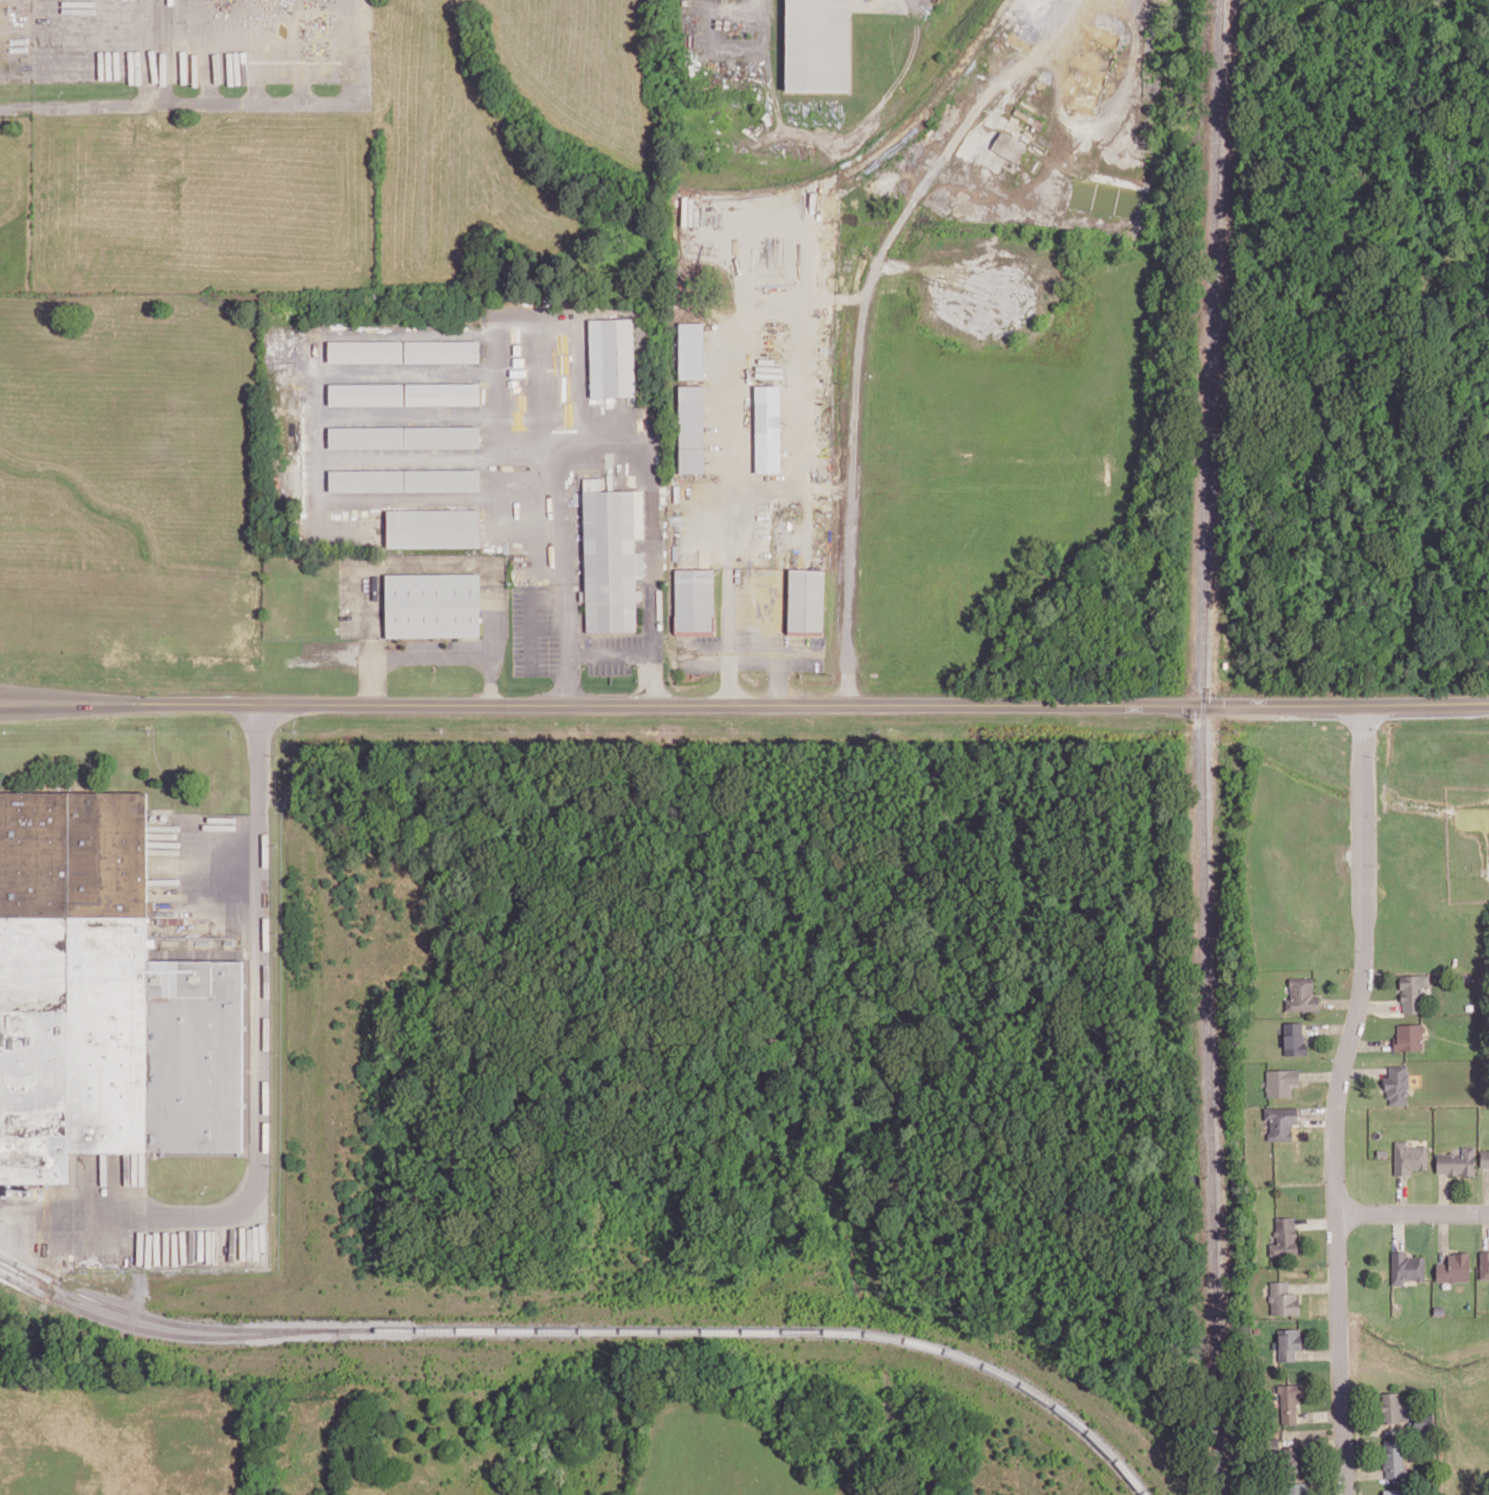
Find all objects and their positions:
street lamp: (327, 23)
building: (817, 45)
road: (161, 52)
street lamp: (328, 82)
road: (229, 102)
building: (1008, 147)
road: (856, 338)
building: (691, 350)
building: (365, 352)
building: (441, 352)
building: (612, 357)
building: (366, 395)
building: (442, 395)
building: (768, 428)
building: (691, 429)
building: (404, 438)
road: (607, 459)
building: (405, 481)
road: (728, 518)
building: (433, 528)
building: (612, 556)
road: (429, 564)
building: (694, 601)
building: (806, 601)
building: (432, 605)
road: (751, 651)
road: (611, 652)
road: (430, 658)
road: (779, 677)
road: (744, 703)
railway: (1204, 747)
building: (1412, 992)
building: (1301, 995)
building: (102, 1000)
road: (259, 1024)
building: (1409, 1037)
building: (1294, 1038)
building: (1281, 1082)
building: (1397, 1085)
road: (1338, 1098)
building: (1281, 1122)
building: (1409, 1158)
building: (1484, 1158)
building: (1456, 1162)
road: (1402, 1193)
road: (1412, 1212)
road: (1317, 1221)
road: (1399, 1229)
building: (1284, 1237)
building: (1484, 1265)
building: (1406, 1267)
building: (1454, 1268)
road: (1314, 1285)
building: (1283, 1299)
railway: (593, 1328)
railway: (161, 1331)
building: (1288, 1343)
building: (1393, 1408)
building: (1423, 1421)
building: (1393, 1458)
building: (1292, 1461)
building: (1296, 1488)
building: (1395, 1491)

